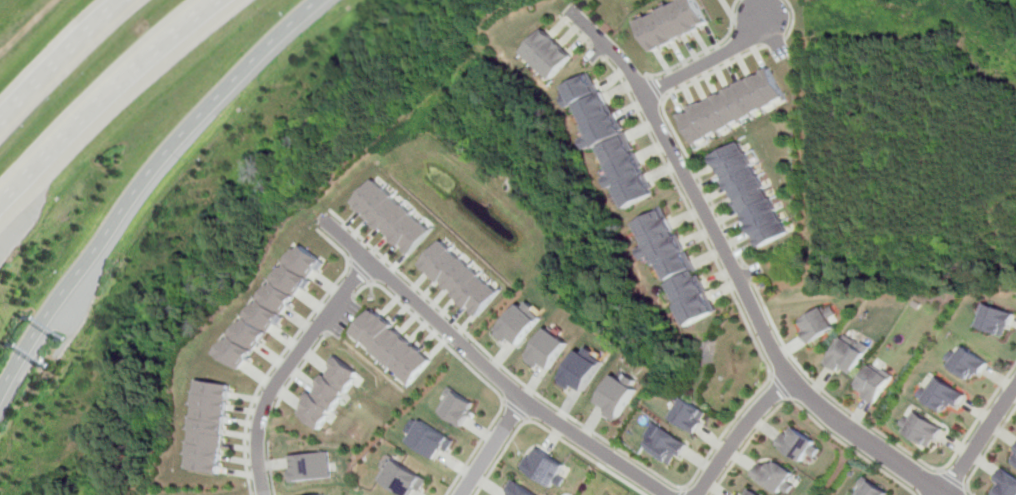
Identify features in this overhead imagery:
road: (794, 19)
building: (676, 23)
road: (577, 31)
road: (777, 42)
road: (707, 49)
road: (598, 51)
building: (549, 53)
road: (61, 56)
road: (706, 59)
road: (656, 89)
road: (105, 96)
building: (732, 107)
road: (674, 132)
building: (610, 141)
road: (142, 186)
building: (747, 194)
road: (691, 214)
building: (392, 218)
road: (345, 240)
building: (677, 267)
road: (360, 270)
road: (734, 272)
road: (745, 274)
building: (460, 279)
building: (271, 307)
road: (339, 315)
building: (998, 320)
building: (519, 323)
building: (820, 324)
road: (444, 330)
building: (390, 348)
building: (549, 349)
road: (284, 350)
building: (852, 356)
building: (972, 363)
road: (285, 368)
road: (471, 368)
road: (298, 370)
building: (584, 370)
building: (879, 385)
road: (784, 388)
building: (328, 394)
building: (947, 394)
building: (619, 395)
building: (456, 405)
road: (555, 407)
road: (805, 408)
road: (515, 409)
building: (692, 415)
building: (209, 426)
building: (926, 429)
road: (547, 430)
road: (879, 431)
road: (741, 433)
building: (429, 439)
road: (980, 441)
building: (800, 443)
road: (595, 446)
road: (490, 447)
building: (668, 447)
road: (986, 450)
building: (1014, 459)
building: (310, 467)
building: (544, 467)
road: (269, 468)
building: (778, 477)
building: (400, 478)
road: (952, 479)
building: (1005, 483)
building: (872, 488)
building: (519, 491)
road: (684, 492)
building: (756, 493)
building: (321, 494)
building: (743, 494)

